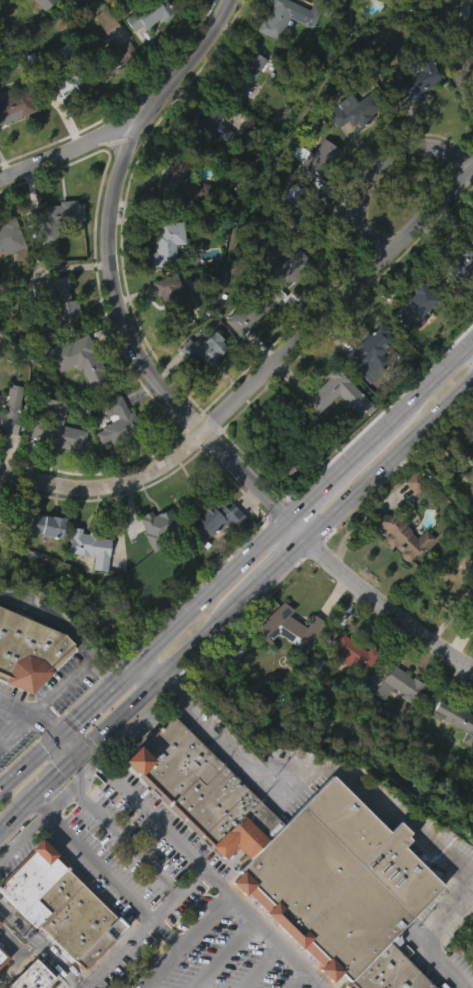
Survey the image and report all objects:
building: (10, 8)
building: (467, 8)
building: (181, 10)
building: (357, 11)
building: (151, 13)
building: (292, 15)
building: (108, 20)
building: (38, 29)
building: (465, 45)
building: (145, 49)
building: (280, 51)
building: (115, 57)
building: (68, 73)
building: (246, 73)
building: (465, 75)
building: (416, 77)
building: (112, 93)
building: (17, 104)
building: (357, 108)
building: (240, 110)
building: (412, 116)
building: (210, 122)
building: (13, 140)
building: (345, 146)
road: (70, 149)
building: (319, 159)
building: (206, 161)
road: (380, 165)
building: (184, 182)
building: (316, 192)
building: (303, 215)
building: (178, 218)
building: (57, 220)
building: (11, 236)
building: (168, 241)
building: (55, 253)
building: (461, 268)
road: (111, 269)
building: (287, 270)
building: (8, 274)
building: (162, 275)
building: (457, 298)
building: (61, 299)
building: (177, 299)
building: (417, 303)
building: (284, 305)
building: (249, 312)
building: (168, 328)
building: (55, 334)
building: (412, 340)
road: (471, 347)
building: (243, 348)
building: (205, 350)
building: (374, 352)
building: (89, 363)
road: (259, 376)
building: (364, 382)
building: (200, 385)
road: (426, 385)
building: (338, 392)
building: (82, 394)
building: (11, 411)
building: (57, 426)
building: (332, 427)
building: (8, 443)
building: (472, 448)
building: (281, 453)
building: (111, 455)
road: (388, 460)
building: (51, 461)
building: (471, 464)
road: (332, 472)
building: (468, 478)
building: (469, 487)
building: (410, 517)
building: (218, 518)
building: (50, 525)
building: (160, 527)
road: (294, 527)
building: (401, 536)
building: (88, 546)
building: (211, 554)
building: (152, 559)
building: (42, 560)
road: (274, 566)
road: (339, 568)
building: (399, 571)
building: (451, 577)
building: (86, 582)
road: (197, 598)
building: (449, 614)
road: (50, 620)
building: (287, 627)
road: (423, 634)
building: (31, 651)
building: (355, 653)
building: (227, 656)
building: (284, 662)
road: (145, 667)
road: (103, 668)
road: (158, 673)
building: (26, 685)
road: (63, 685)
building: (402, 685)
building: (228, 686)
building: (348, 688)
road: (83, 708)
road: (31, 712)
building: (456, 718)
building: (394, 719)
traffic signals: (45, 725)
road: (17, 732)
road: (80, 733)
road: (2, 741)
road: (64, 744)
building: (451, 753)
traffic signals: (91, 760)
road: (27, 761)
road: (81, 772)
road: (53, 774)
road: (372, 790)
building: (472, 790)
road: (22, 804)
road: (6, 819)
road: (34, 823)
road: (123, 840)
building: (307, 861)
road: (199, 866)
road: (130, 900)
building: (57, 904)
building: (0, 920)
road: (204, 922)
building: (3, 955)
road: (99, 968)
building: (31, 976)
building: (1, 986)

